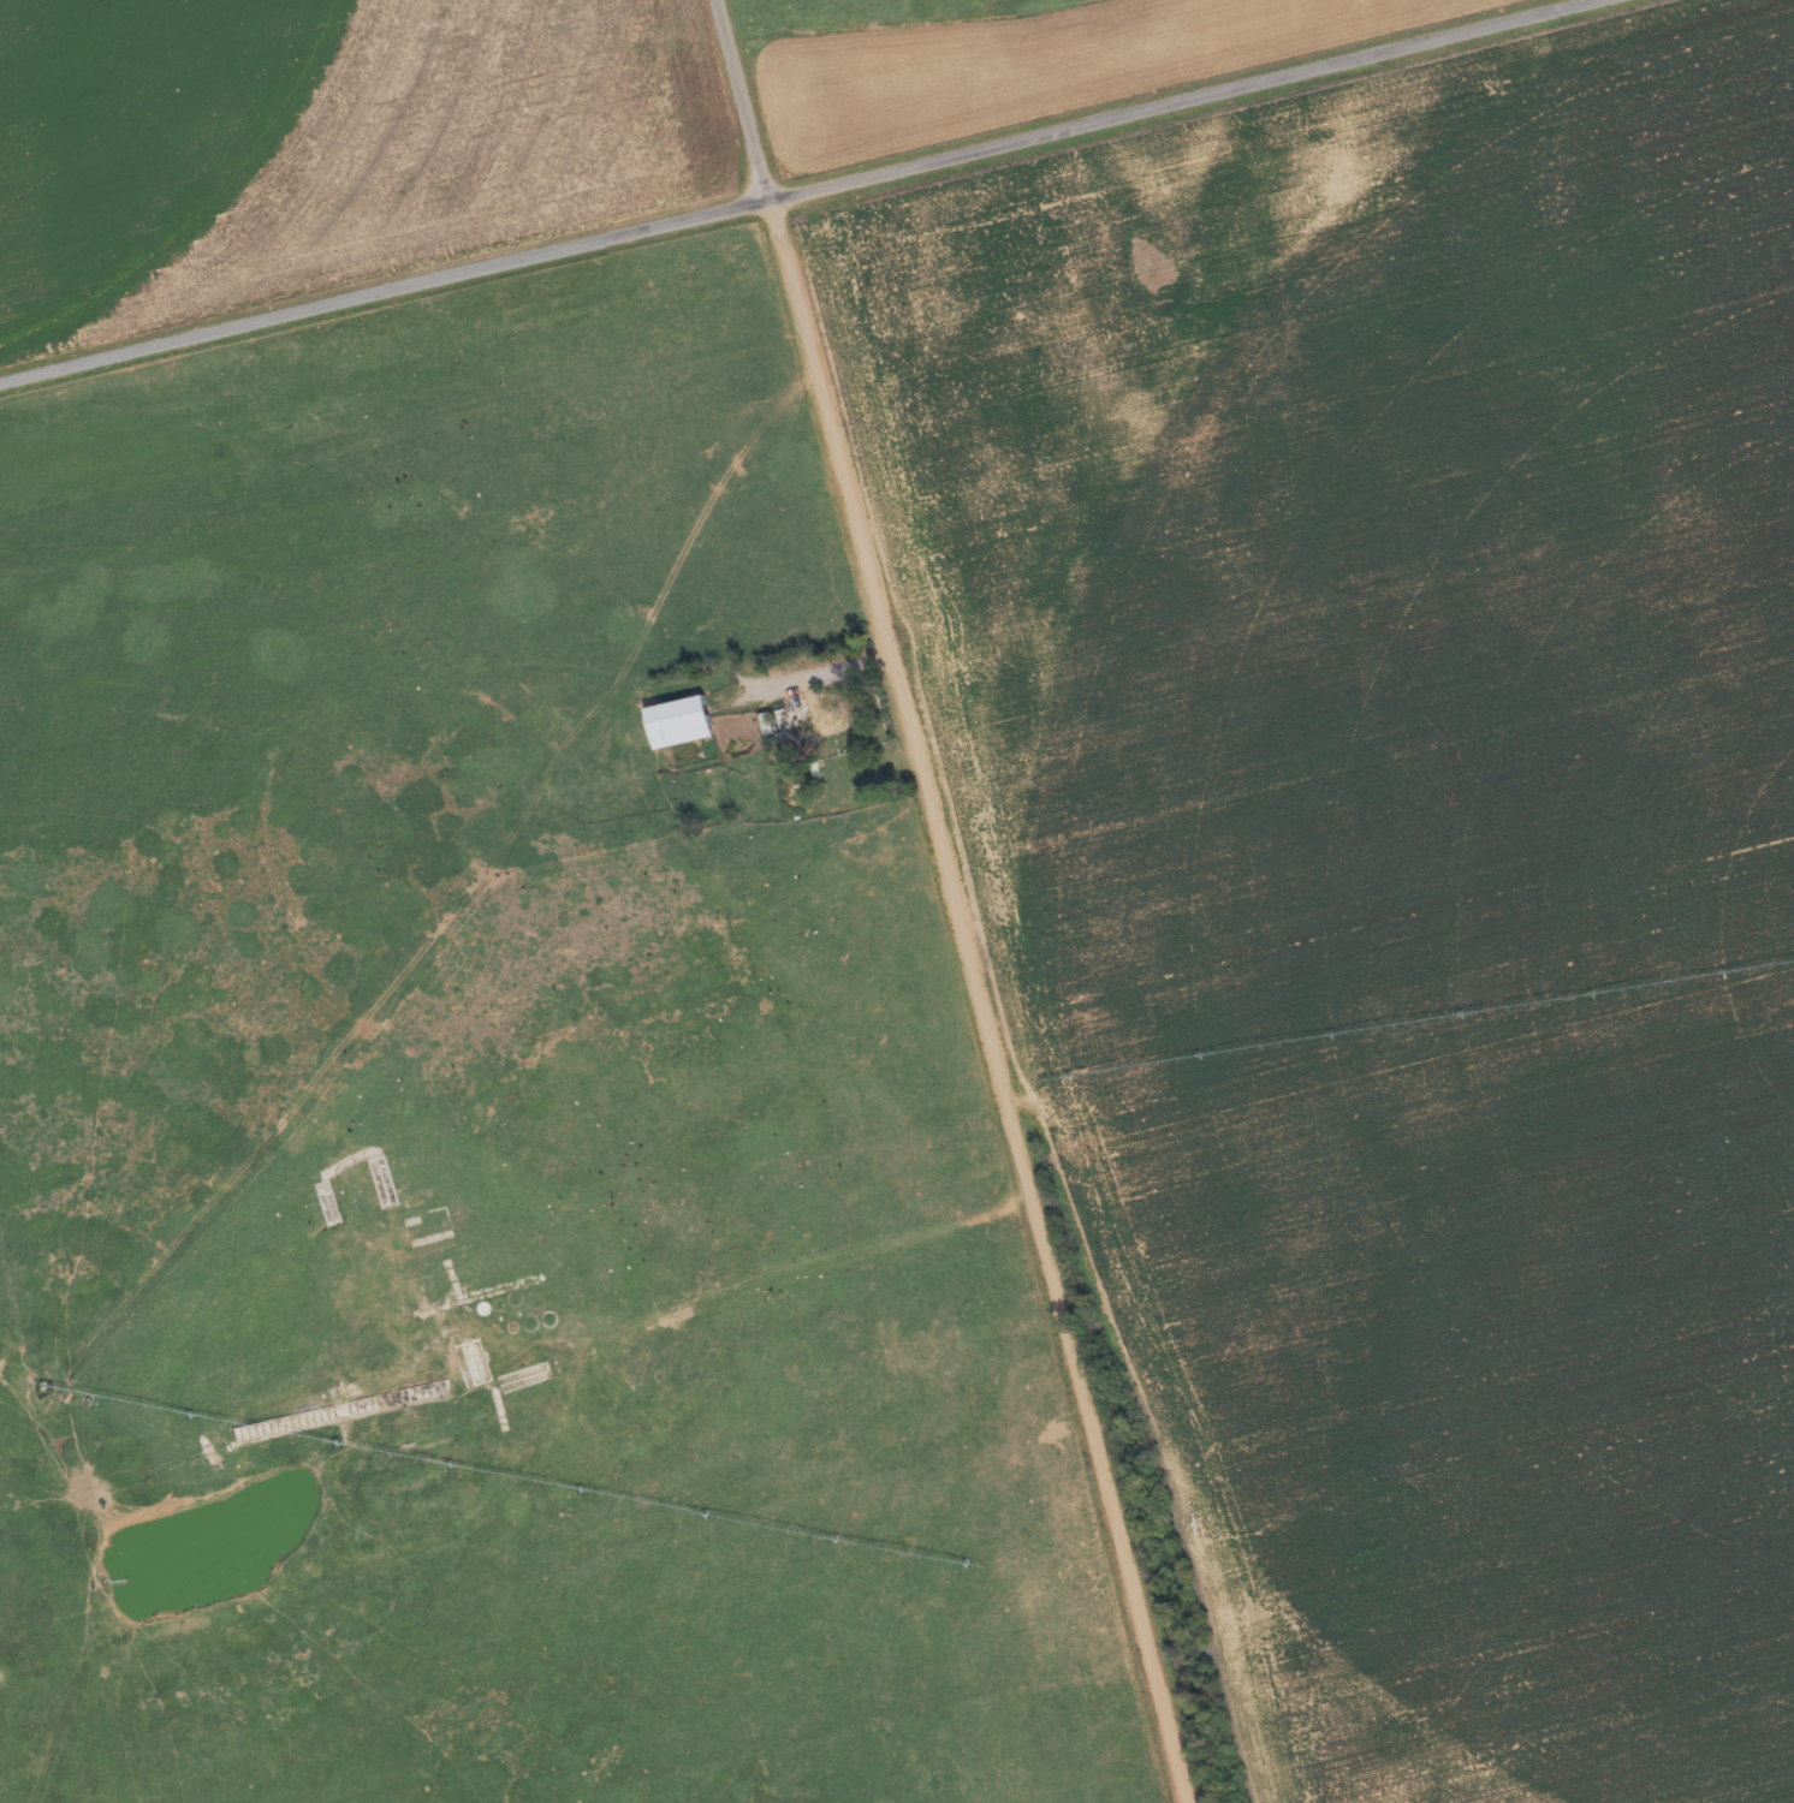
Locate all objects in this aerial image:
road: (1564, 133)
road: (794, 195)
building: (818, 716)
building: (687, 724)
road: (945, 901)
road: (505, 1320)
road: (1279, 1620)
road: (102, 1631)
road: (1596, 1751)

